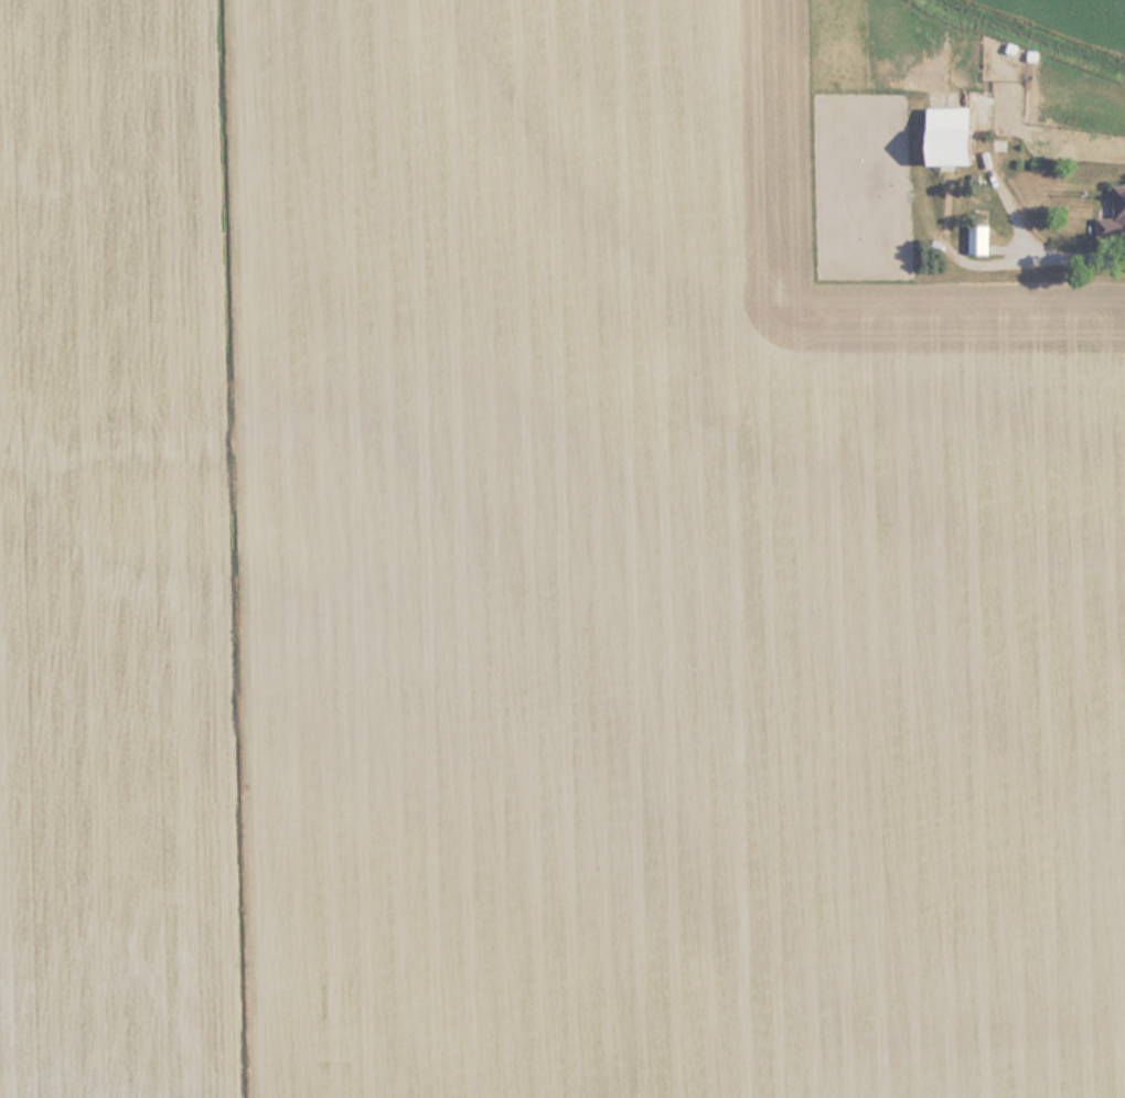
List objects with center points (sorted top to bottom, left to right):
building: (956, 137)
building: (1115, 217)
building: (982, 239)

